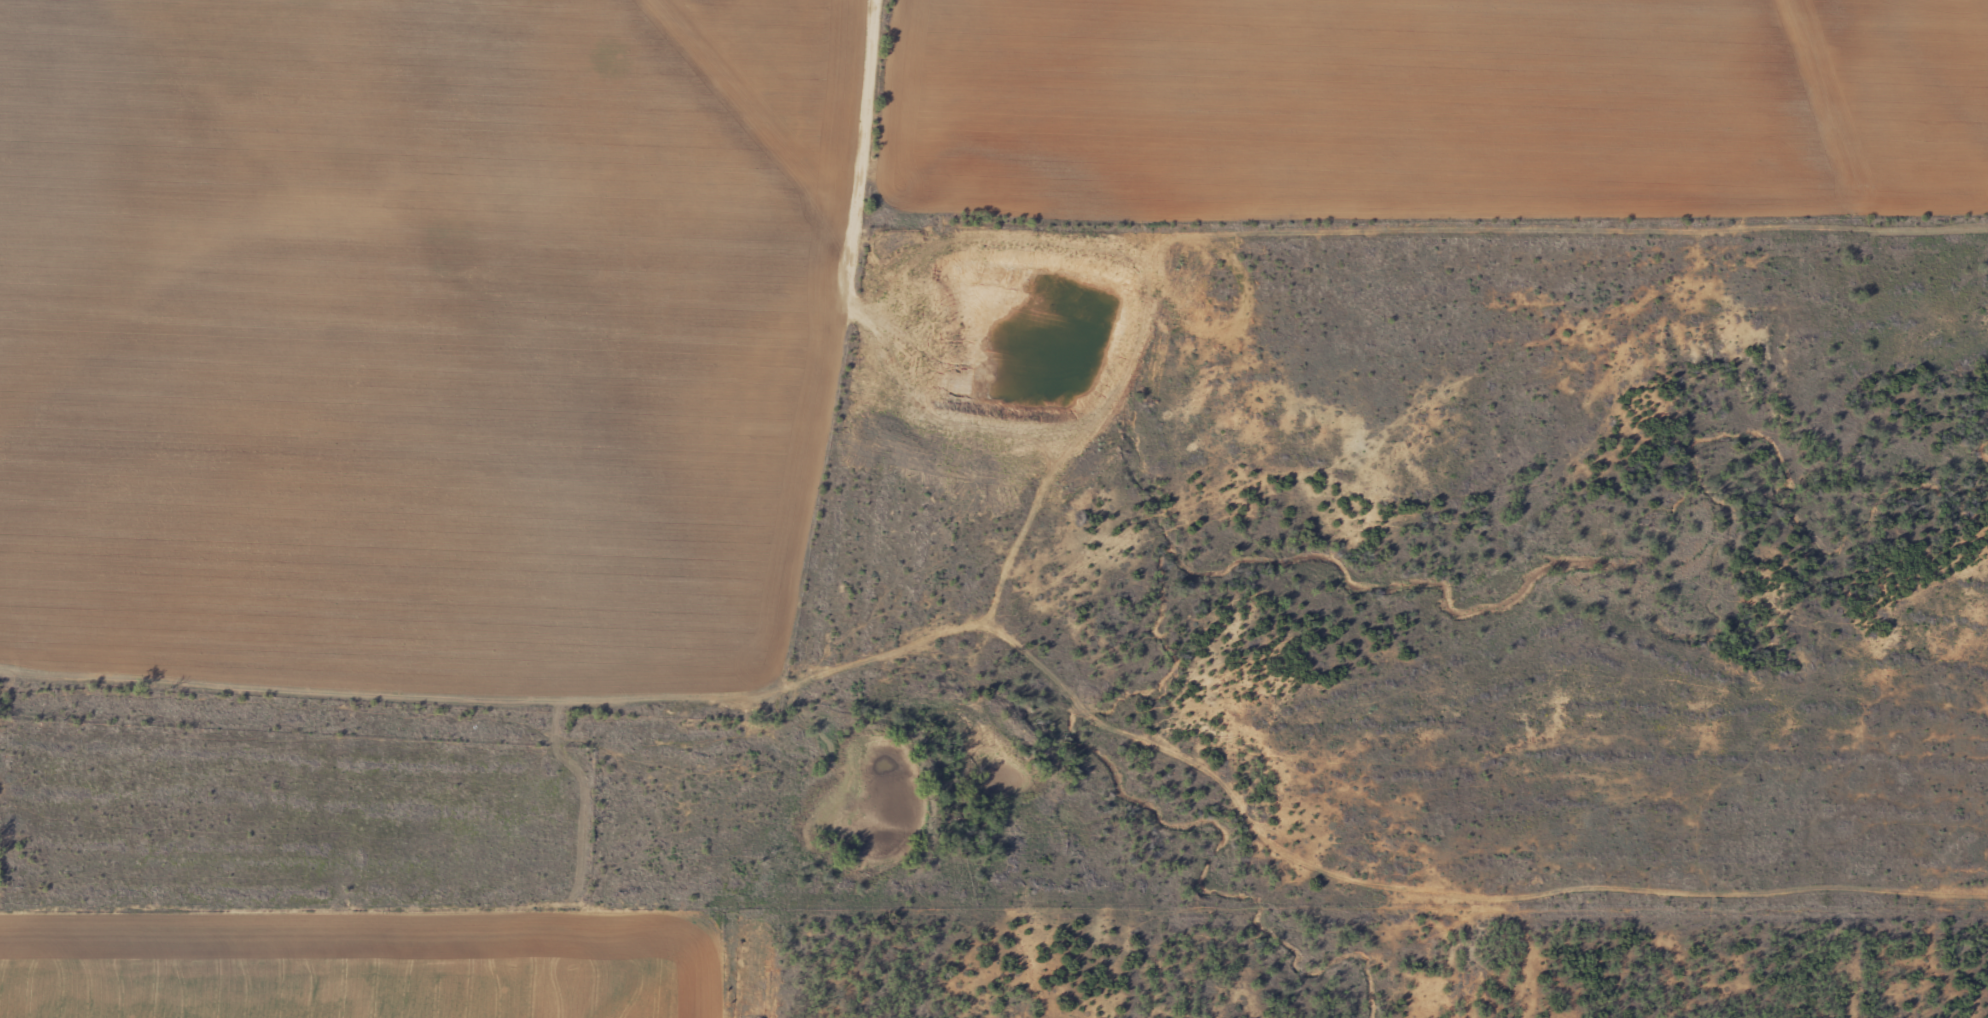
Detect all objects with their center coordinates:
road: (846, 298)

